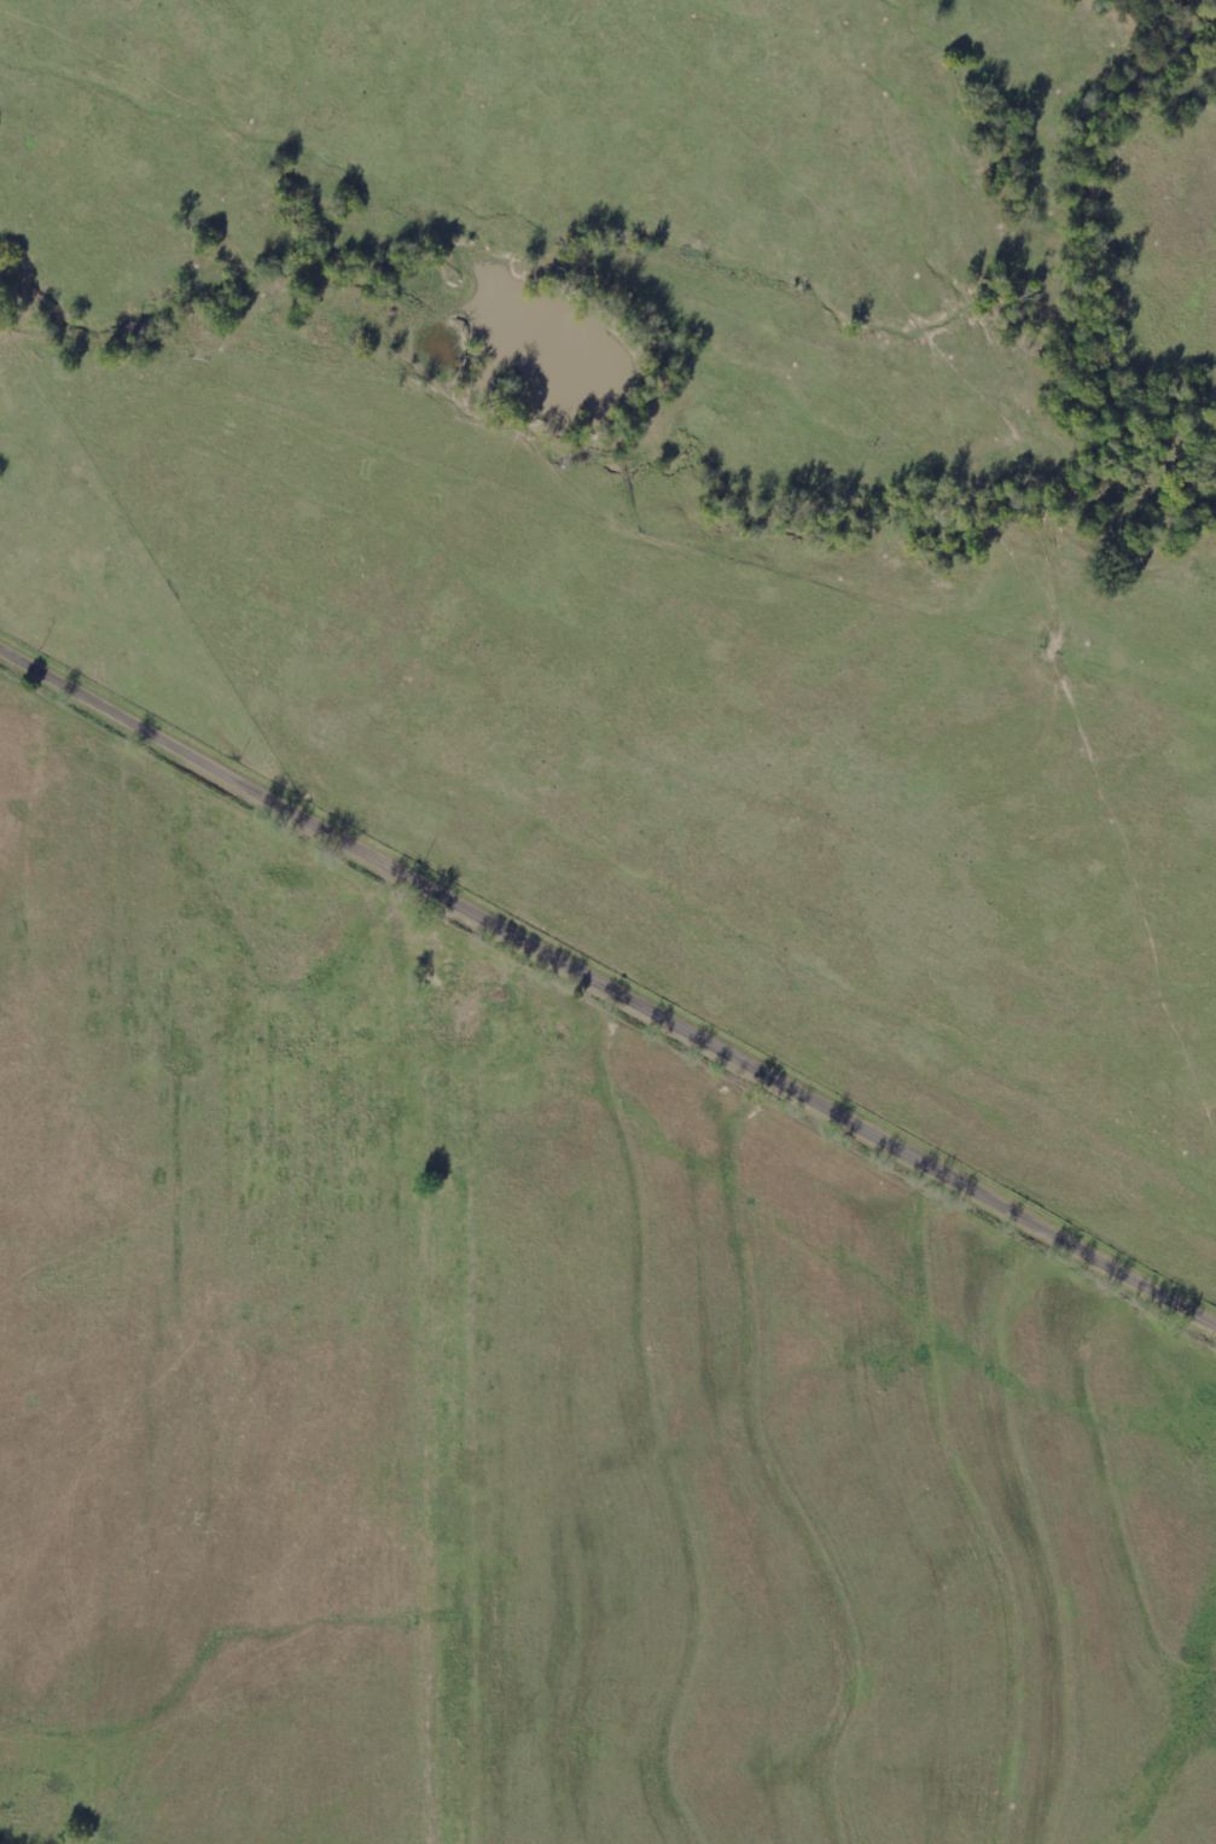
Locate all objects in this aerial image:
road: (607, 984)

